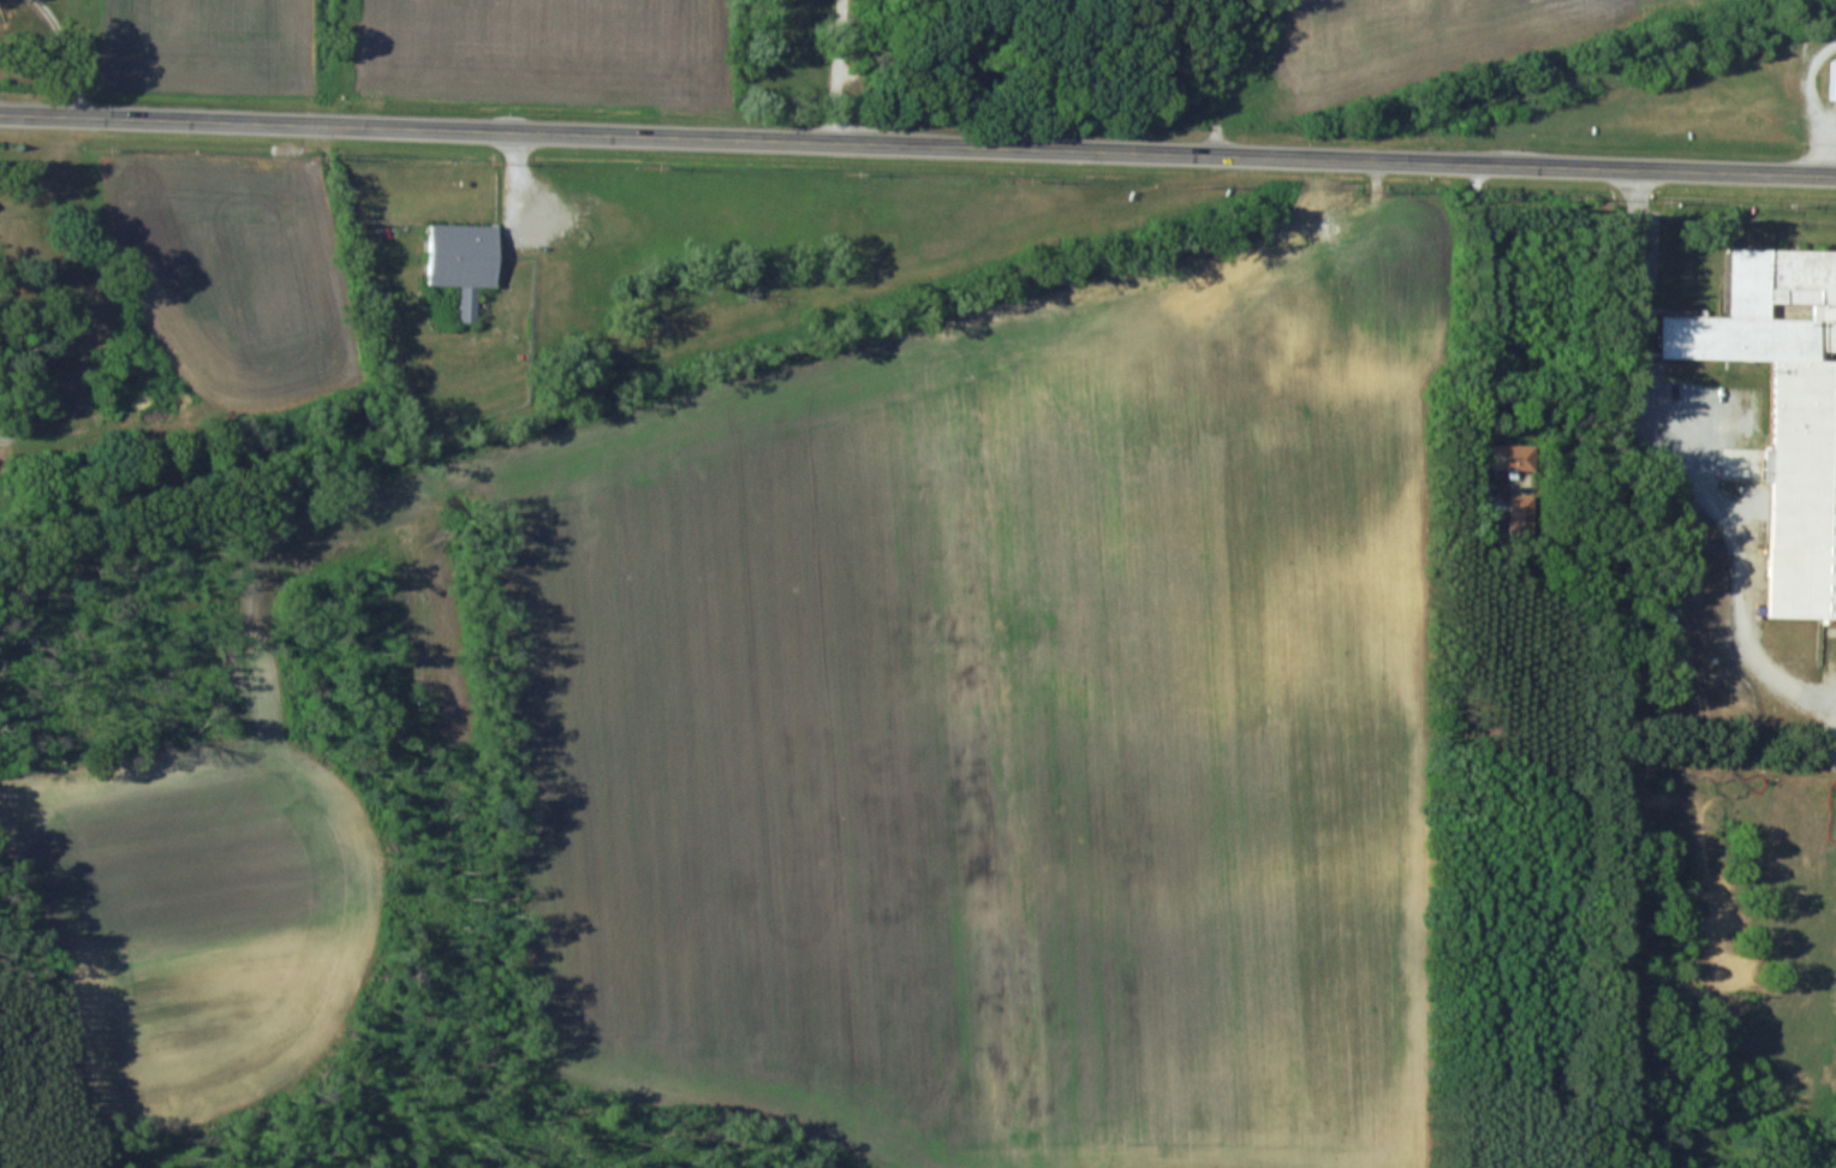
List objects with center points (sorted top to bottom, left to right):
road: (47, 49)
road: (1217, 76)
building: (1835, 93)
road: (918, 143)
road: (1482, 302)
building: (1781, 410)
building: (1512, 458)

